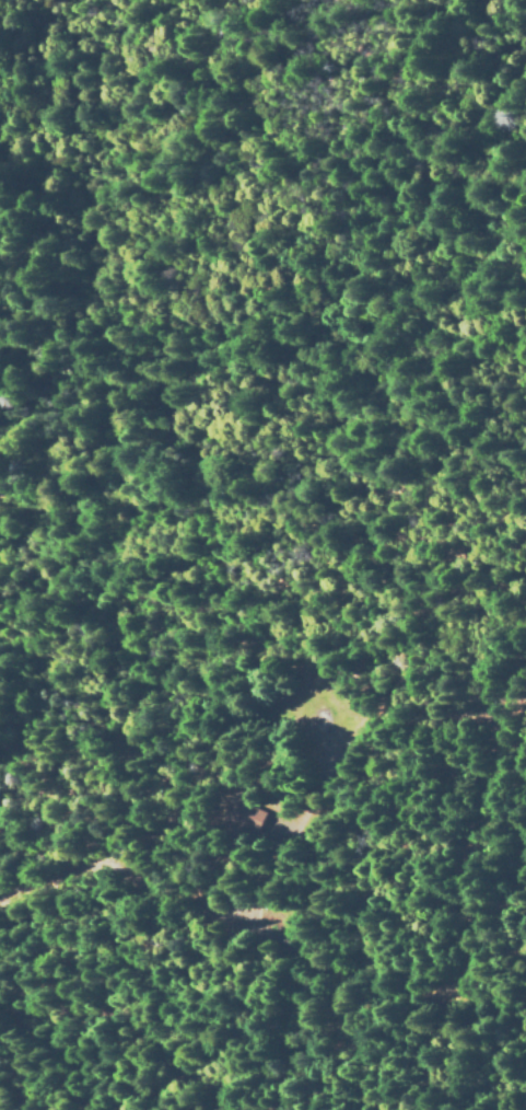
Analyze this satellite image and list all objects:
building: (253, 817)

